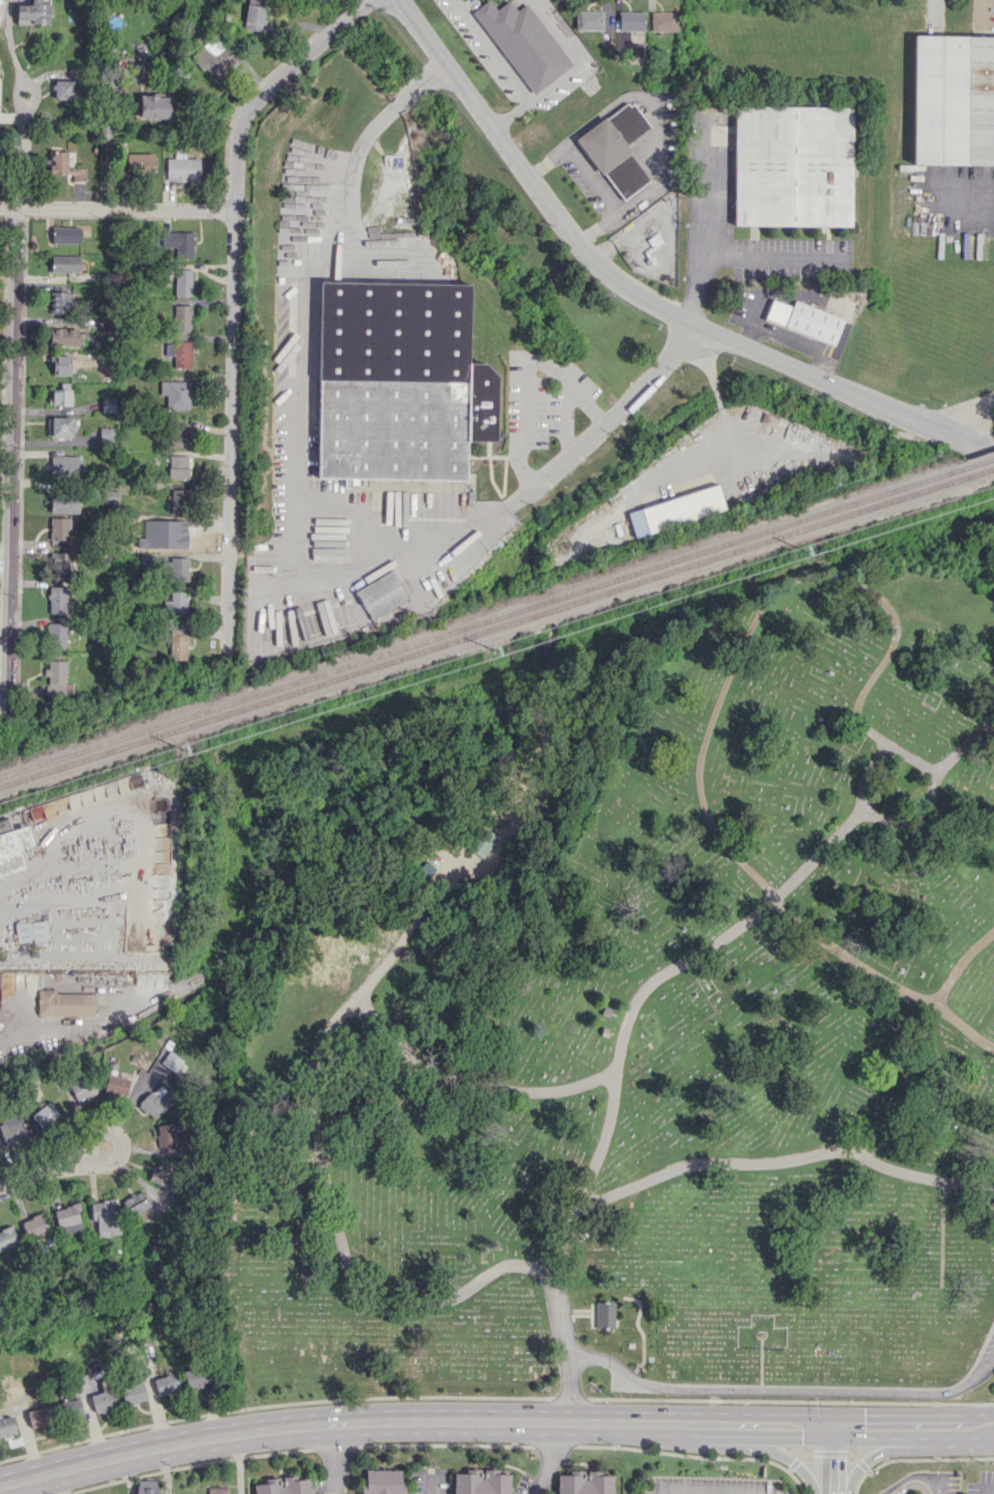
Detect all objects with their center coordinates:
building: (0, 1)
building: (34, 12)
building: (255, 14)
building: (589, 20)
building: (630, 20)
building: (663, 21)
building: (523, 42)
road: (493, 50)
building: (214, 57)
road: (567, 72)
building: (64, 89)
building: (953, 99)
building: (155, 105)
road: (23, 123)
road: (658, 138)
building: (616, 149)
road: (547, 159)
building: (138, 163)
building: (794, 165)
building: (64, 166)
building: (182, 168)
road: (592, 175)
road: (118, 210)
road: (703, 222)
building: (65, 234)
building: (180, 240)
road: (775, 258)
building: (65, 263)
building: (183, 282)
road: (644, 296)
road: (234, 297)
building: (60, 302)
building: (182, 318)
building: (804, 320)
building: (65, 336)
building: (179, 353)
building: (60, 364)
road: (299, 366)
road: (524, 375)
building: (400, 381)
road: (715, 391)
building: (176, 393)
building: (61, 394)
building: (108, 404)
road: (964, 412)
road: (606, 418)
building: (60, 426)
building: (107, 435)
building: (178, 435)
road: (10, 459)
railway: (983, 461)
building: (63, 465)
building: (178, 466)
railway: (988, 470)
building: (367, 483)
building: (179, 500)
building: (64, 502)
building: (677, 510)
building: (59, 528)
building: (60, 562)
building: (176, 569)
road: (346, 579)
road: (776, 590)
building: (381, 594)
building: (57, 599)
building: (176, 604)
railway: (486, 621)
railway: (491, 629)
building: (56, 634)
building: (177, 643)
building: (55, 677)
road: (868, 777)
road: (892, 819)
building: (481, 842)
building: (8, 850)
building: (423, 871)
road: (408, 932)
road: (958, 963)
road: (881, 977)
building: (65, 1003)
park: (633, 1009)
road: (75, 1015)
building: (171, 1061)
building: (117, 1085)
building: (83, 1088)
road: (312, 1097)
building: (156, 1101)
building: (45, 1114)
building: (12, 1129)
road: (607, 1129)
building: (170, 1134)
road: (119, 1141)
road: (777, 1160)
road: (42, 1173)
building: (163, 1173)
building: (136, 1203)
building: (106, 1217)
building: (68, 1218)
building: (35, 1225)
building: (7, 1237)
building: (601, 1314)
building: (197, 1376)
building: (166, 1384)
road: (783, 1391)
road: (212, 1392)
building: (133, 1393)
building: (103, 1401)
building: (70, 1408)
road: (155, 1413)
building: (40, 1416)
road: (493, 1420)
traffic signals: (826, 1425)
building: (7, 1426)
road: (93, 1428)
road: (29, 1445)
road: (770, 1450)
road: (877, 1453)
road: (334, 1458)
road: (549, 1458)
road: (826, 1459)
road: (239, 1463)
road: (165, 1469)
road: (127, 1474)
road: (914, 1475)
building: (382, 1481)
road: (62, 1482)
road: (428, 1482)
building: (481, 1483)
parking lot: (982, 1483)
building: (584, 1484)
building: (147, 1486)
road: (18, 1487)
building: (283, 1487)
road: (989, 1489)
building: (217, 1490)

